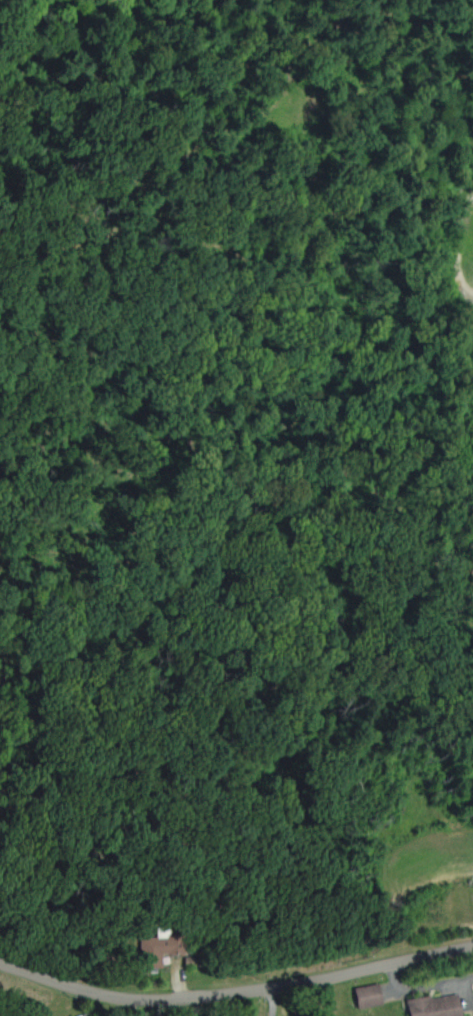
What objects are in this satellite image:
building: (158, 946)
road: (235, 992)
building: (364, 993)
building: (432, 1005)

